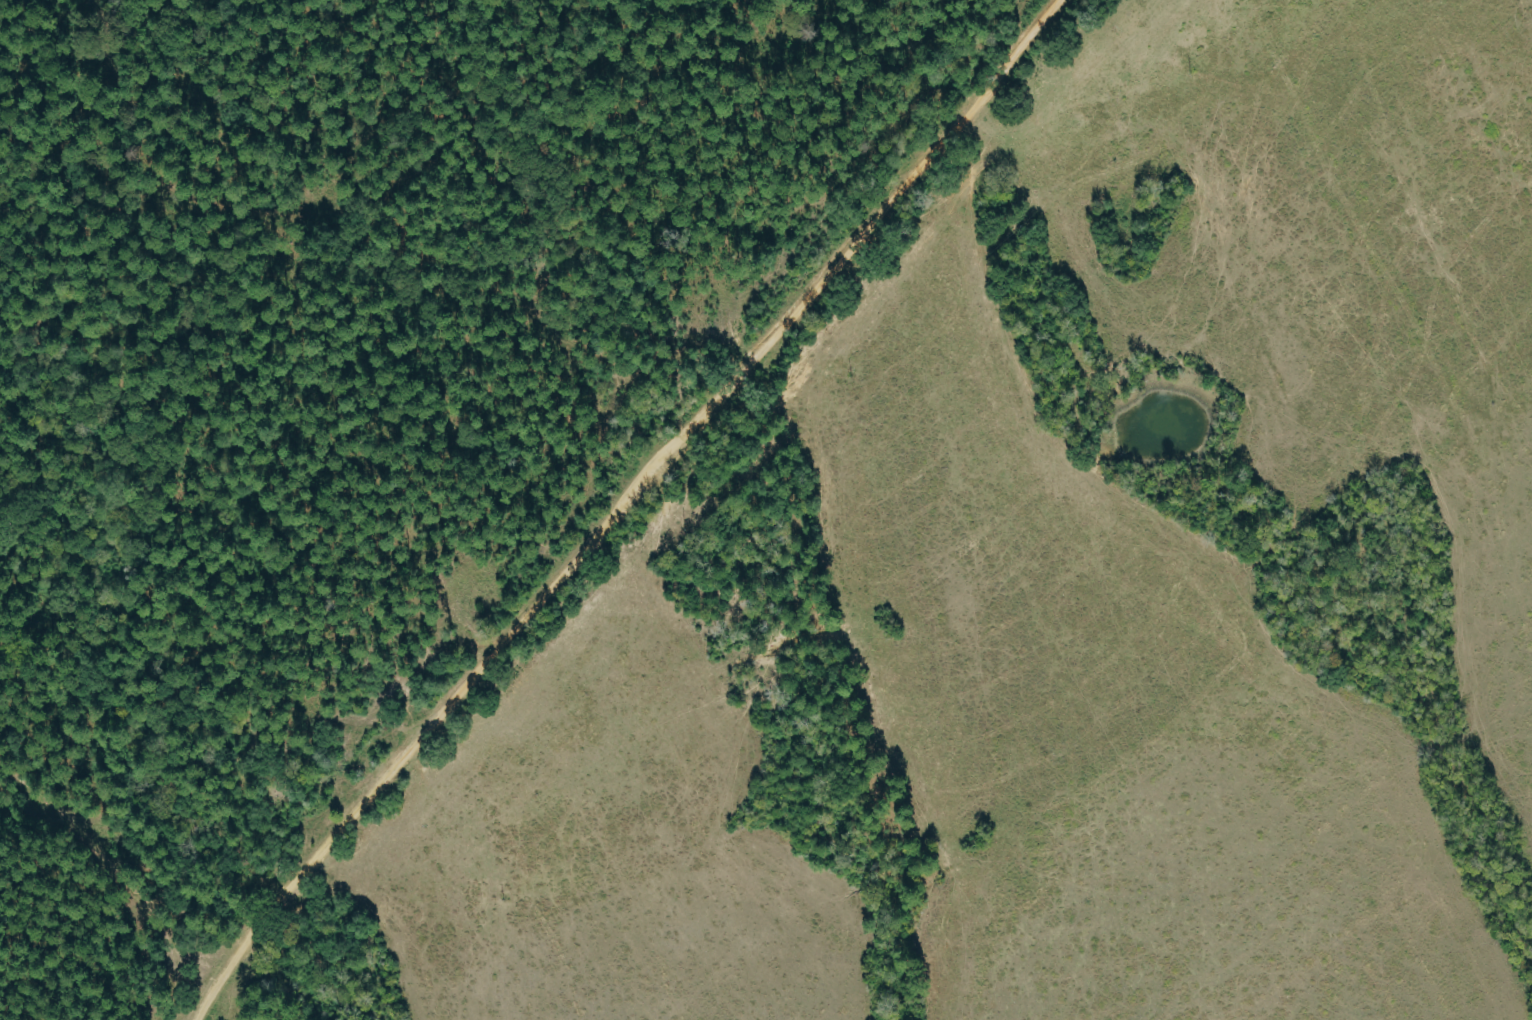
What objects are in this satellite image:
road: (620, 506)

